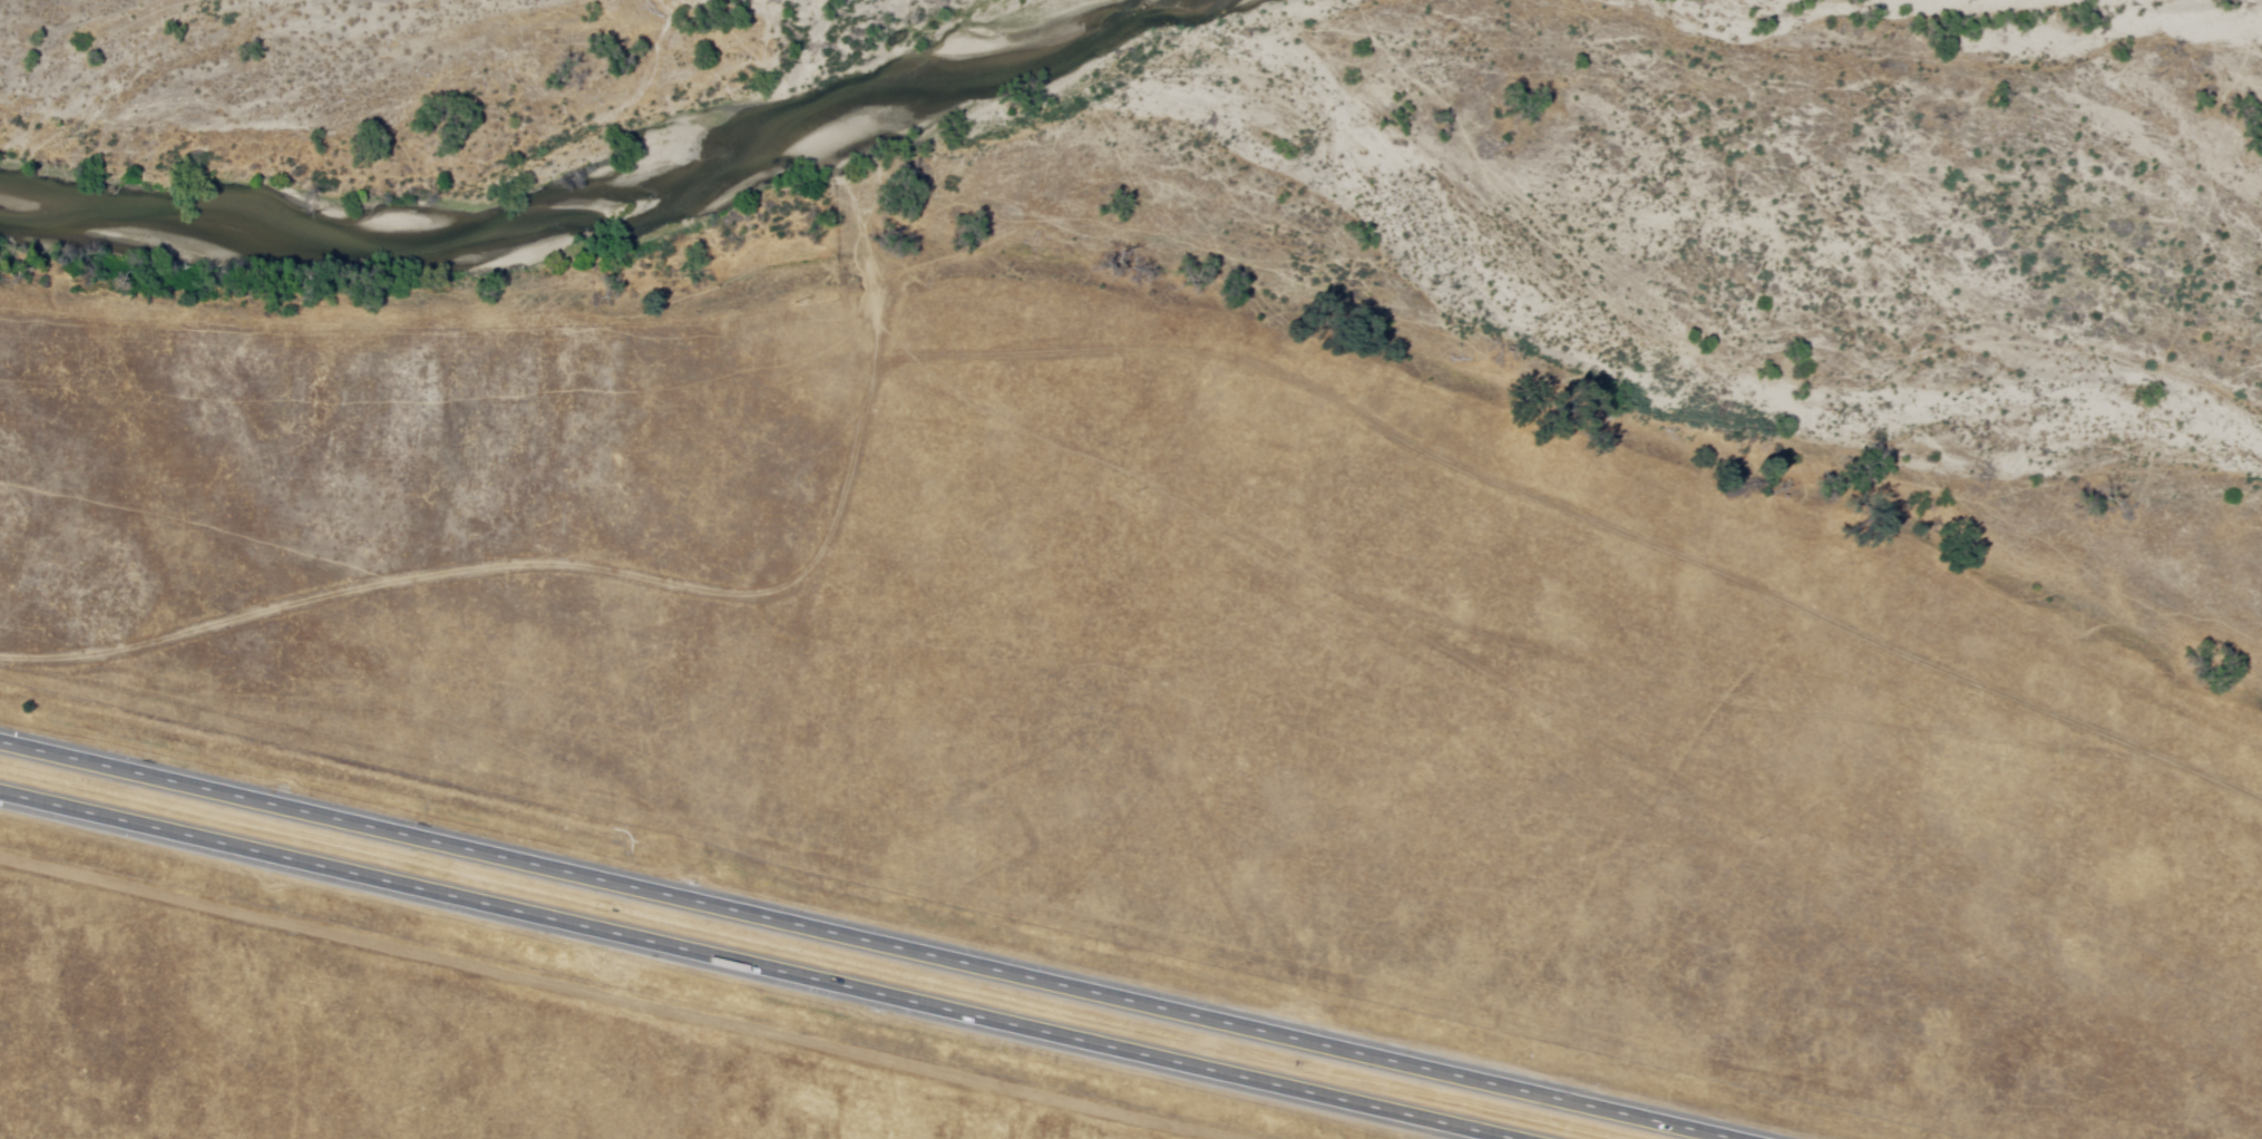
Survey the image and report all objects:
river: (977, 68)
river: (721, 177)
river: (117, 210)
river: (411, 225)
road: (1094, 350)
road: (869, 940)
road: (767, 961)
road: (614, 1000)
road: (1015, 1114)

